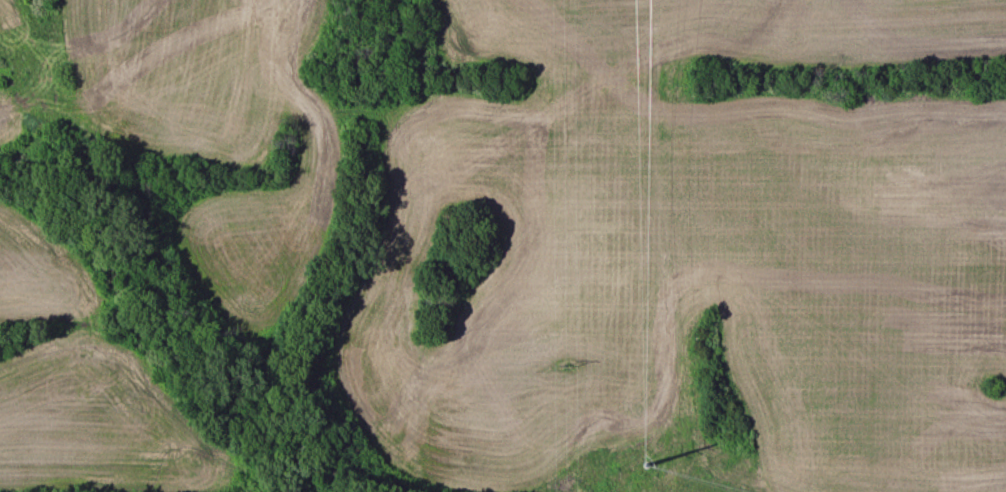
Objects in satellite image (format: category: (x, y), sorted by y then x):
power tower: (568, 365)
power tower: (643, 465)

